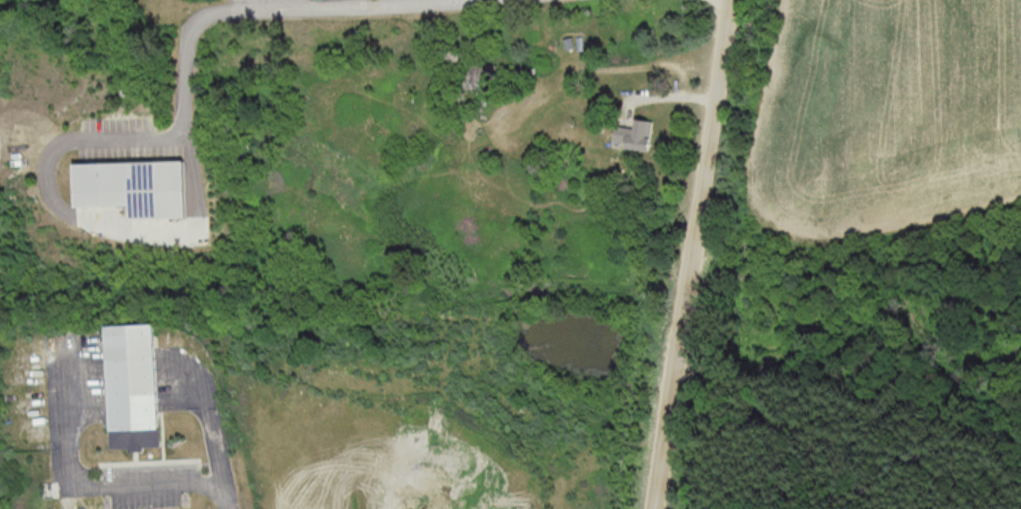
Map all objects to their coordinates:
road: (251, 5)
road: (185, 60)
road: (659, 93)
building: (633, 134)
building: (130, 186)
road: (691, 254)
building: (131, 386)
road: (213, 429)
road: (102, 486)

